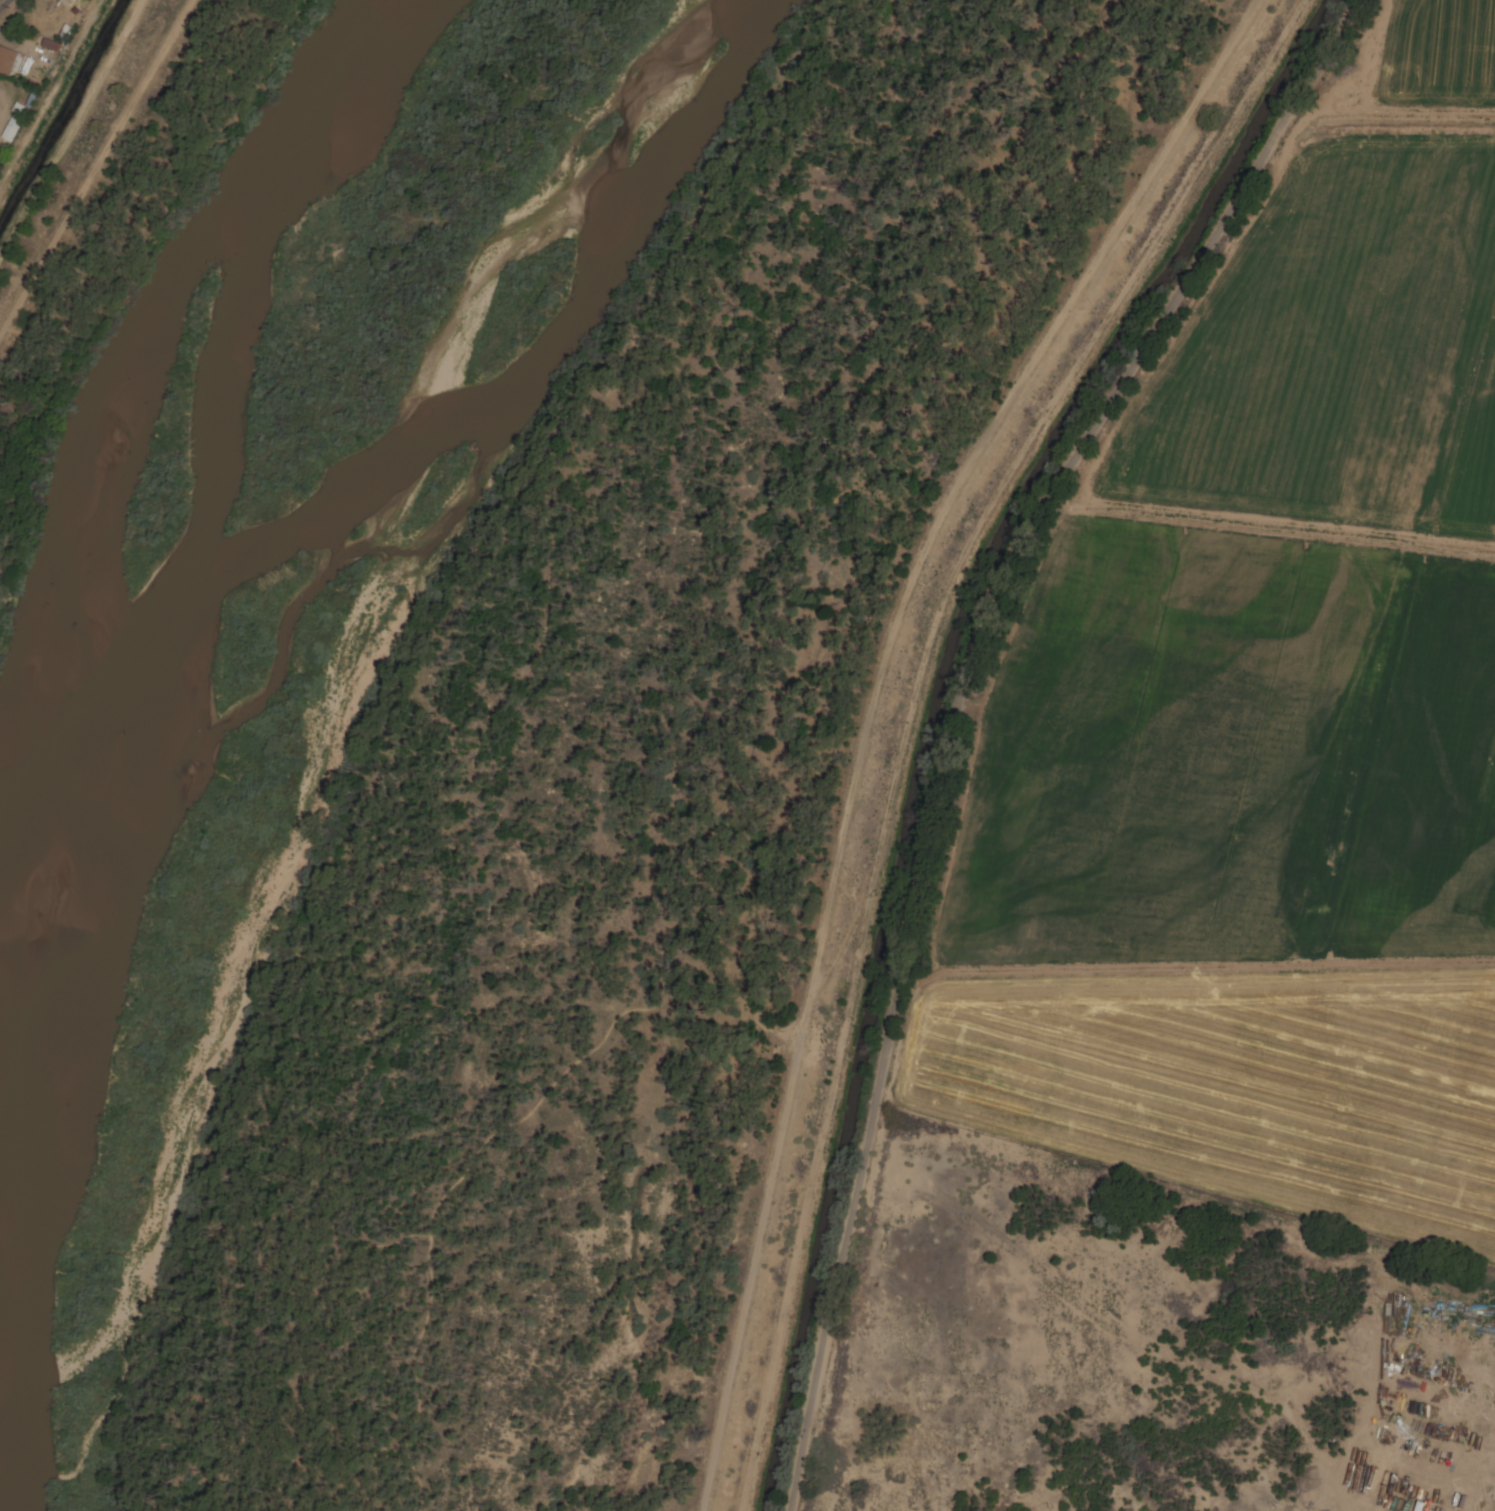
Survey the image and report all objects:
road: (0, 0)
building: (69, 2)
building: (11, 59)
building: (17, 121)
road: (128, 200)
river: (330, 492)
road: (955, 709)
road: (489, 712)
road: (873, 713)
crop: (1267, 714)
road: (735, 756)

